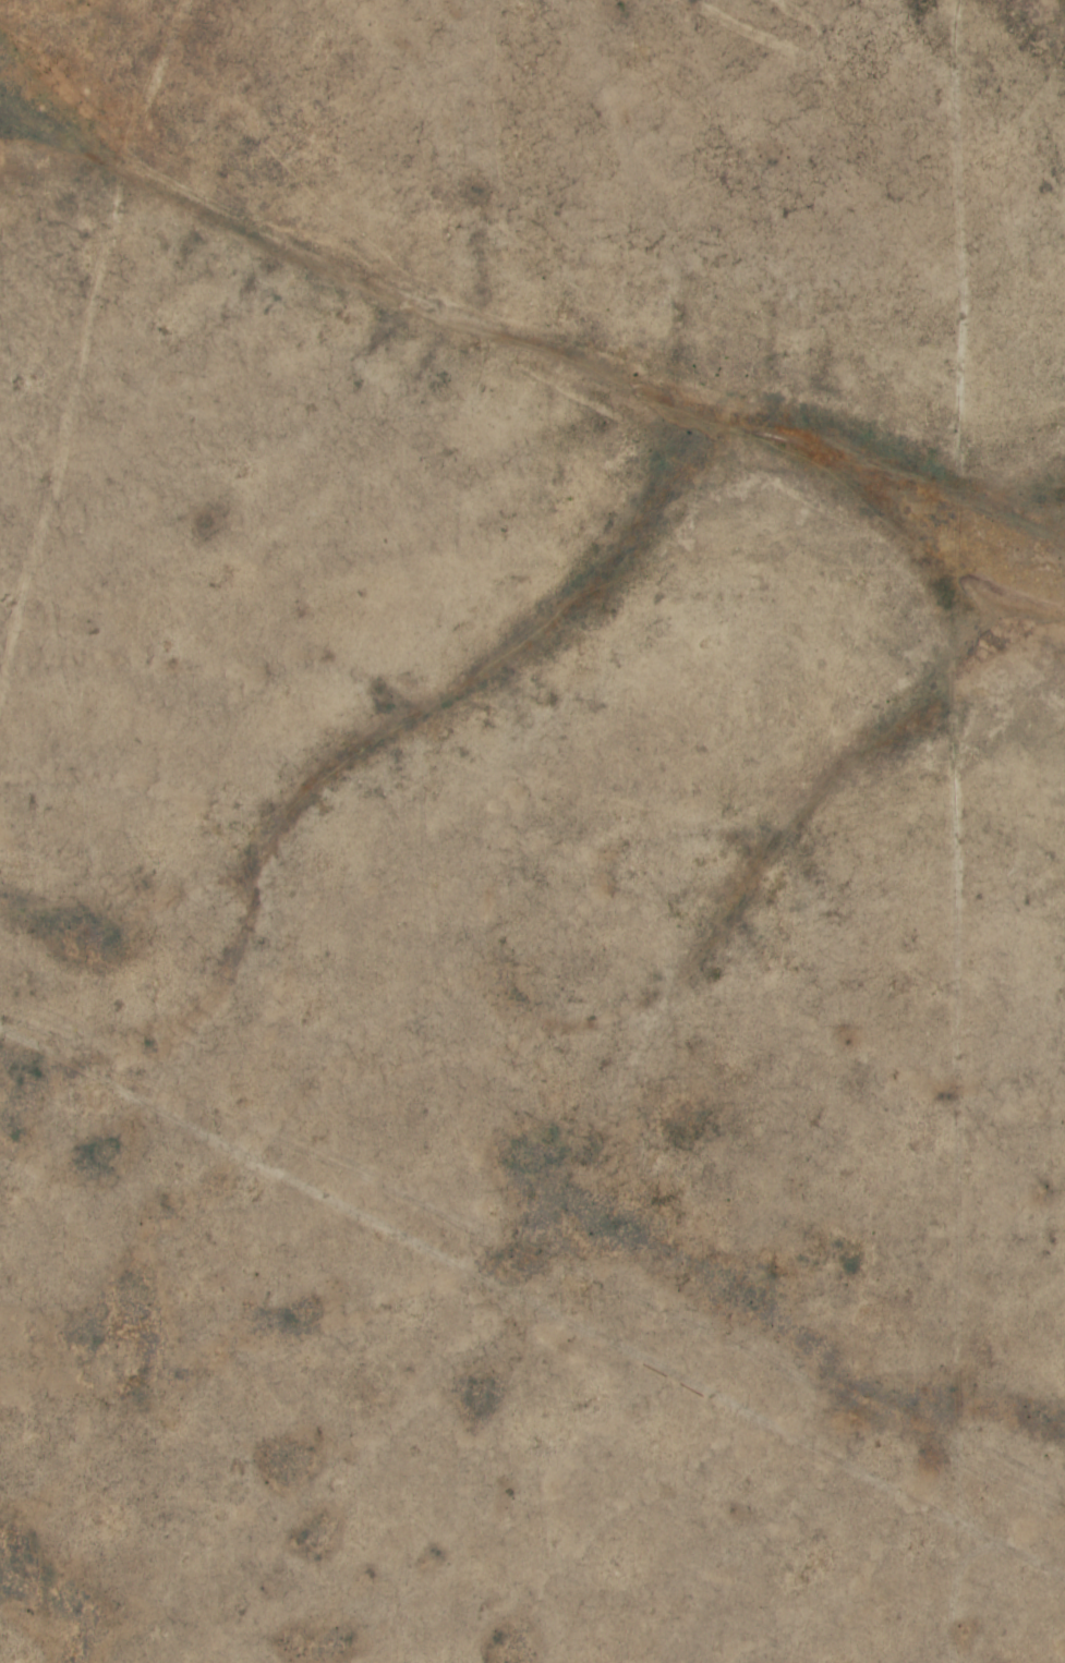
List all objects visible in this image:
road: (995, 108)

